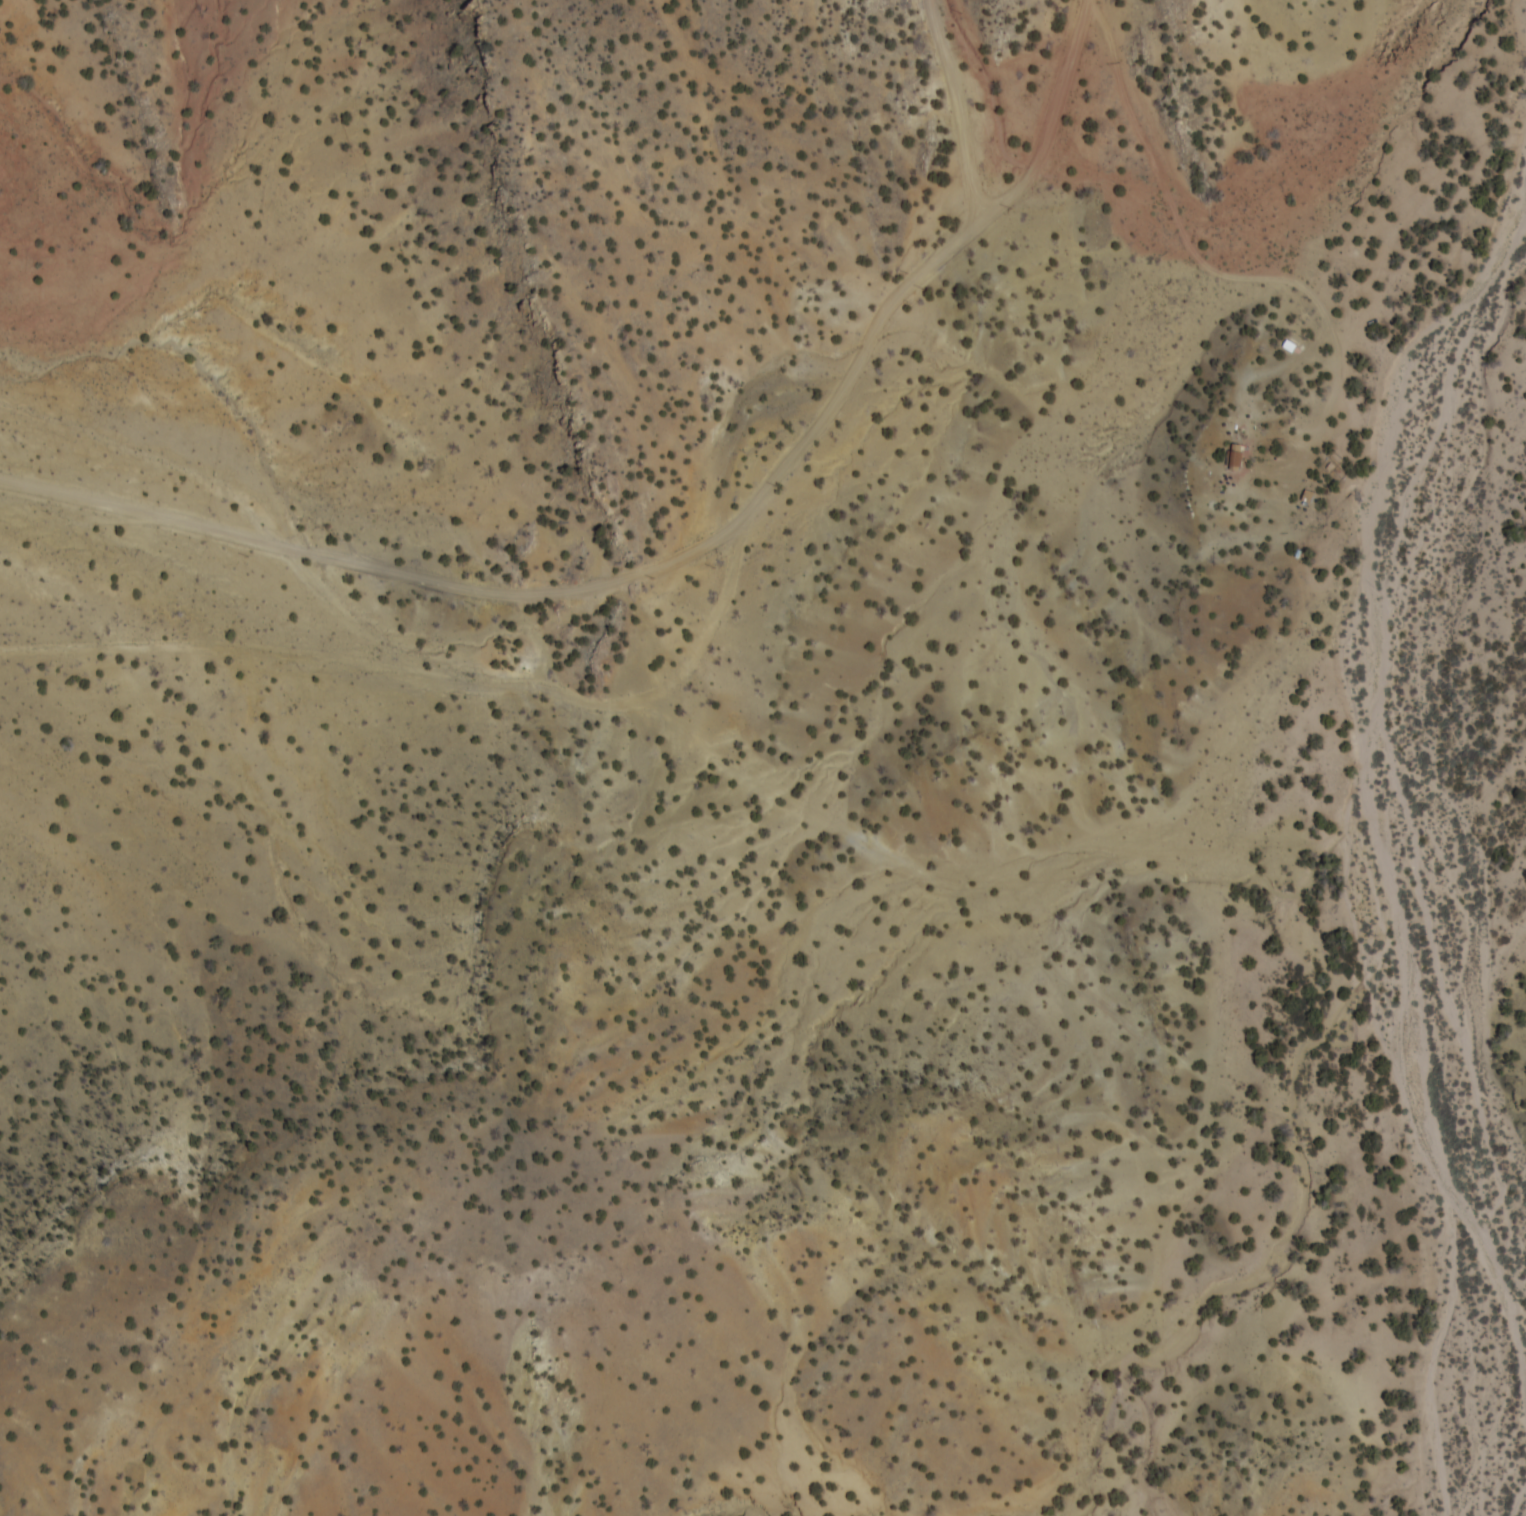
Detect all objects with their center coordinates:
road: (965, 104)
road: (1213, 263)
river: (1425, 428)
building: (1241, 448)
building: (1245, 462)
road: (683, 548)

